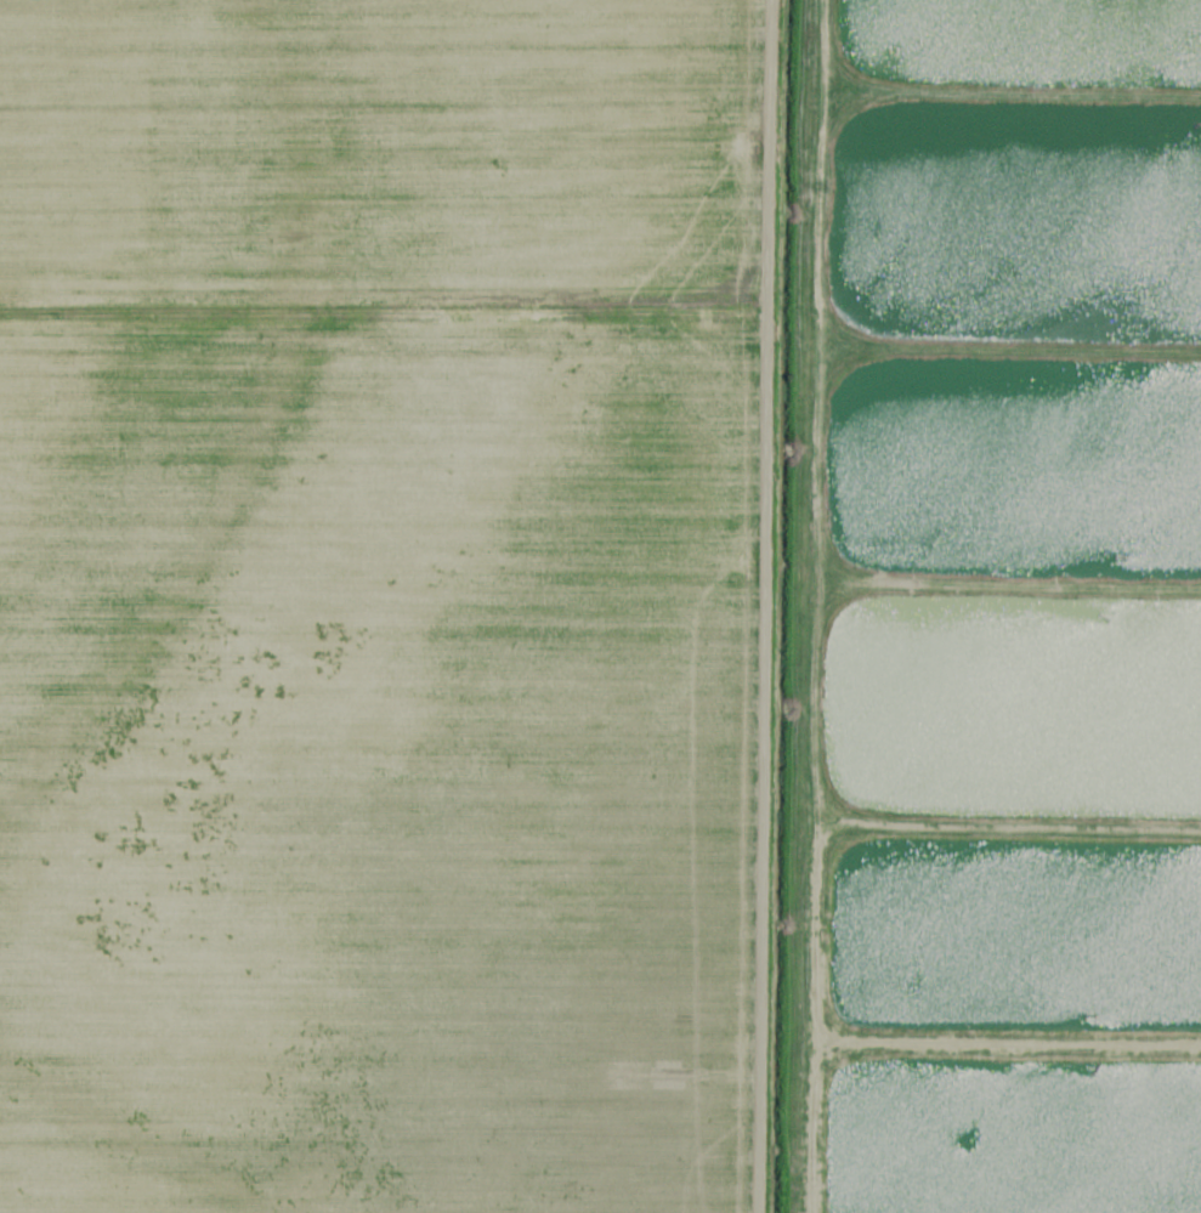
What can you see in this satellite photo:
road: (811, 606)

